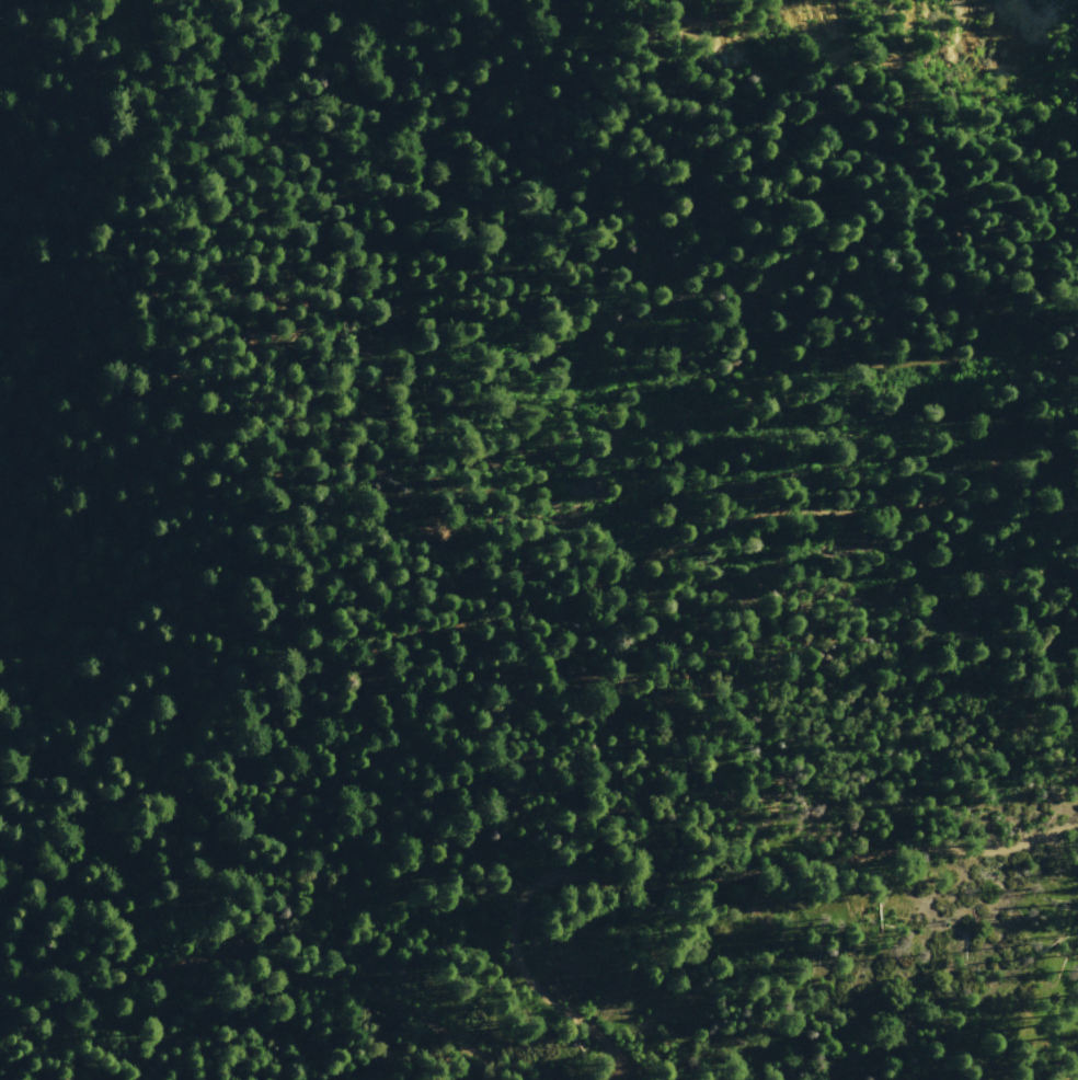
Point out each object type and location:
road: (695, 885)
road: (265, 970)

